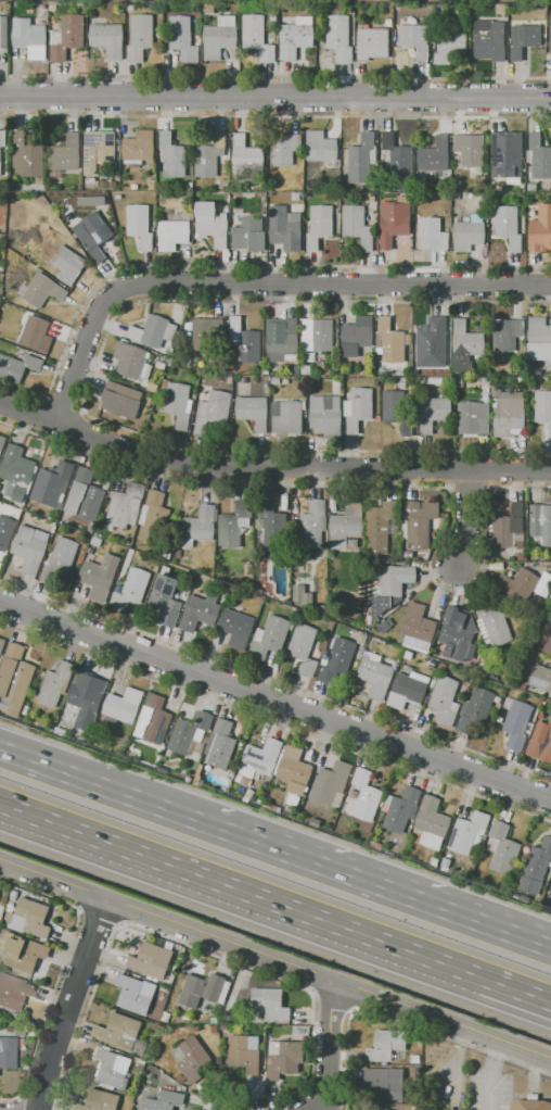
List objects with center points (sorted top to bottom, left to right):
building: (3, 31)
building: (28, 34)
building: (66, 36)
building: (140, 36)
building: (257, 36)
building: (339, 36)
building: (413, 36)
building: (550, 36)
building: (183, 37)
building: (295, 37)
building: (107, 39)
building: (524, 39)
building: (218, 40)
building: (489, 41)
building: (372, 43)
building: (451, 48)
road: (274, 96)
building: (139, 146)
building: (320, 146)
building: (98, 148)
building: (283, 148)
building: (470, 149)
building: (507, 152)
building: (66, 153)
building: (3, 154)
building: (247, 154)
building: (435, 154)
building: (172, 155)
building: (210, 155)
building: (27, 156)
building: (398, 157)
building: (540, 157)
building: (362, 159)
building: (89, 182)
building: (501, 182)
building: (225, 184)
building: (104, 185)
building: (112, 185)
building: (202, 185)
building: (134, 186)
building: (151, 186)
building: (34, 187)
building: (533, 187)
building: (295, 195)
building: (370, 195)
building: (84, 206)
building: (225, 209)
building: (394, 222)
building: (212, 224)
building: (140, 225)
building: (319, 225)
building: (357, 226)
building: (509, 226)
building: (286, 228)
building: (540, 230)
building: (95, 234)
building: (172, 234)
building: (249, 234)
building: (432, 234)
building: (22, 235)
building: (467, 235)
building: (67, 264)
road: (258, 285)
building: (42, 289)
building: (153, 331)
building: (35, 332)
building: (507, 332)
building: (207, 335)
building: (318, 335)
building: (357, 336)
building: (538, 336)
building: (282, 339)
building: (244, 340)
building: (392, 341)
building: (432, 343)
building: (465, 344)
building: (131, 361)
building: (17, 367)
building: (294, 369)
building: (306, 369)
building: (419, 369)
building: (275, 380)
building: (117, 399)
building: (179, 403)
building: (393, 405)
building: (542, 406)
building: (358, 408)
building: (212, 409)
building: (253, 411)
building: (433, 413)
building: (509, 413)
building: (325, 414)
building: (289, 417)
building: (472, 417)
building: (2, 443)
road: (269, 465)
building: (15, 472)
building: (53, 482)
building: (85, 495)
building: (125, 505)
building: (154, 515)
road: (470, 519)
building: (541, 521)
building: (272, 522)
building: (312, 522)
building: (418, 522)
building: (234, 524)
building: (260, 524)
building: (346, 525)
building: (200, 526)
building: (380, 526)
building: (509, 528)
building: (5, 531)
building: (30, 547)
building: (178, 554)
building: (409, 555)
building: (522, 556)
building: (59, 562)
building: (247, 568)
building: (98, 580)
building: (395, 580)
building: (136, 584)
building: (520, 584)
building: (544, 588)
building: (375, 591)
building: (300, 593)
building: (167, 597)
building: (354, 605)
building: (373, 606)
building: (200, 611)
building: (418, 622)
building: (385, 625)
building: (236, 627)
building: (495, 628)
building: (459, 634)
building: (269, 638)
building: (544, 638)
building: (417, 644)
building: (2, 645)
building: (305, 648)
building: (359, 651)
building: (337, 663)
building: (375, 673)
building: (15, 678)
building: (540, 678)
building: (54, 682)
building: (408, 690)
road: (275, 695)
building: (85, 699)
building: (445, 699)
building: (123, 704)
building: (475, 709)
building: (26, 710)
building: (152, 719)
building: (518, 724)
building: (66, 726)
building: (190, 734)
building: (540, 735)
building: (220, 744)
building: (259, 760)
building: (200, 768)
building: (294, 770)
building: (198, 779)
building: (331, 784)
road: (104, 787)
building: (249, 794)
building: (361, 796)
building: (293, 799)
building: (270, 806)
building: (403, 808)
building: (432, 817)
building: (315, 822)
building: (466, 832)
building: (503, 849)
building: (536, 865)
road: (380, 885)
building: (0, 891)
road: (275, 903)
building: (29, 917)
building: (23, 951)
road: (275, 959)
building: (151, 960)
building: (201, 989)
building: (13, 992)
building: (134, 993)
building: (230, 1001)
road: (72, 1002)
building: (270, 1002)
building: (223, 1027)
building: (118, 1031)
road: (329, 1045)
building: (387, 1045)
building: (7, 1054)
building: (242, 1055)
building: (192, 1058)
building: (283, 1058)
building: (414, 1058)
building: (108, 1067)
road: (452, 1067)
building: (410, 1072)
road: (489, 1074)
building: (385, 1083)
building: (100, 1100)
building: (165, 1100)
building: (530, 1105)
building: (380, 1109)

